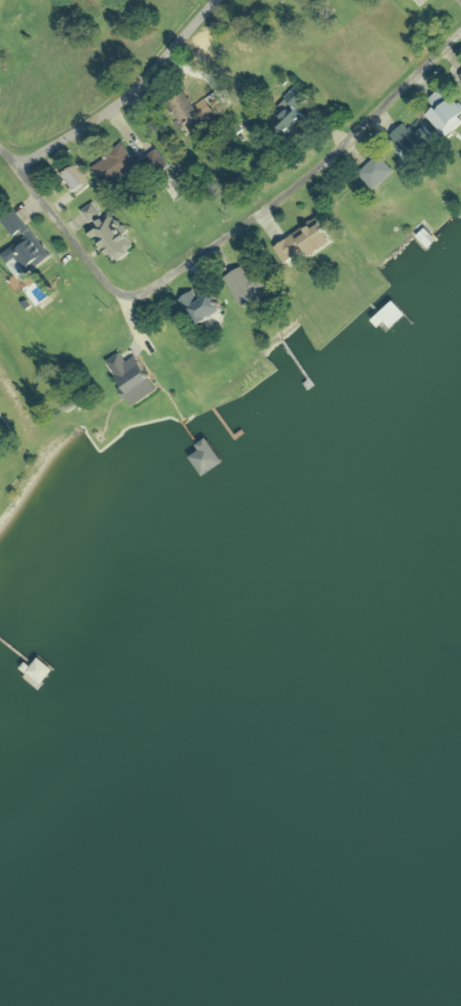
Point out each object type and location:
building: (421, 2)
road: (84, 66)
building: (183, 110)
building: (443, 112)
building: (292, 114)
building: (408, 142)
road: (274, 161)
building: (114, 167)
building: (376, 171)
building: (73, 182)
building: (90, 213)
road: (33, 223)
building: (112, 240)
building: (305, 242)
building: (22, 247)
building: (245, 286)
building: (201, 308)
building: (388, 317)
building: (133, 379)
building: (205, 458)
building: (40, 672)

